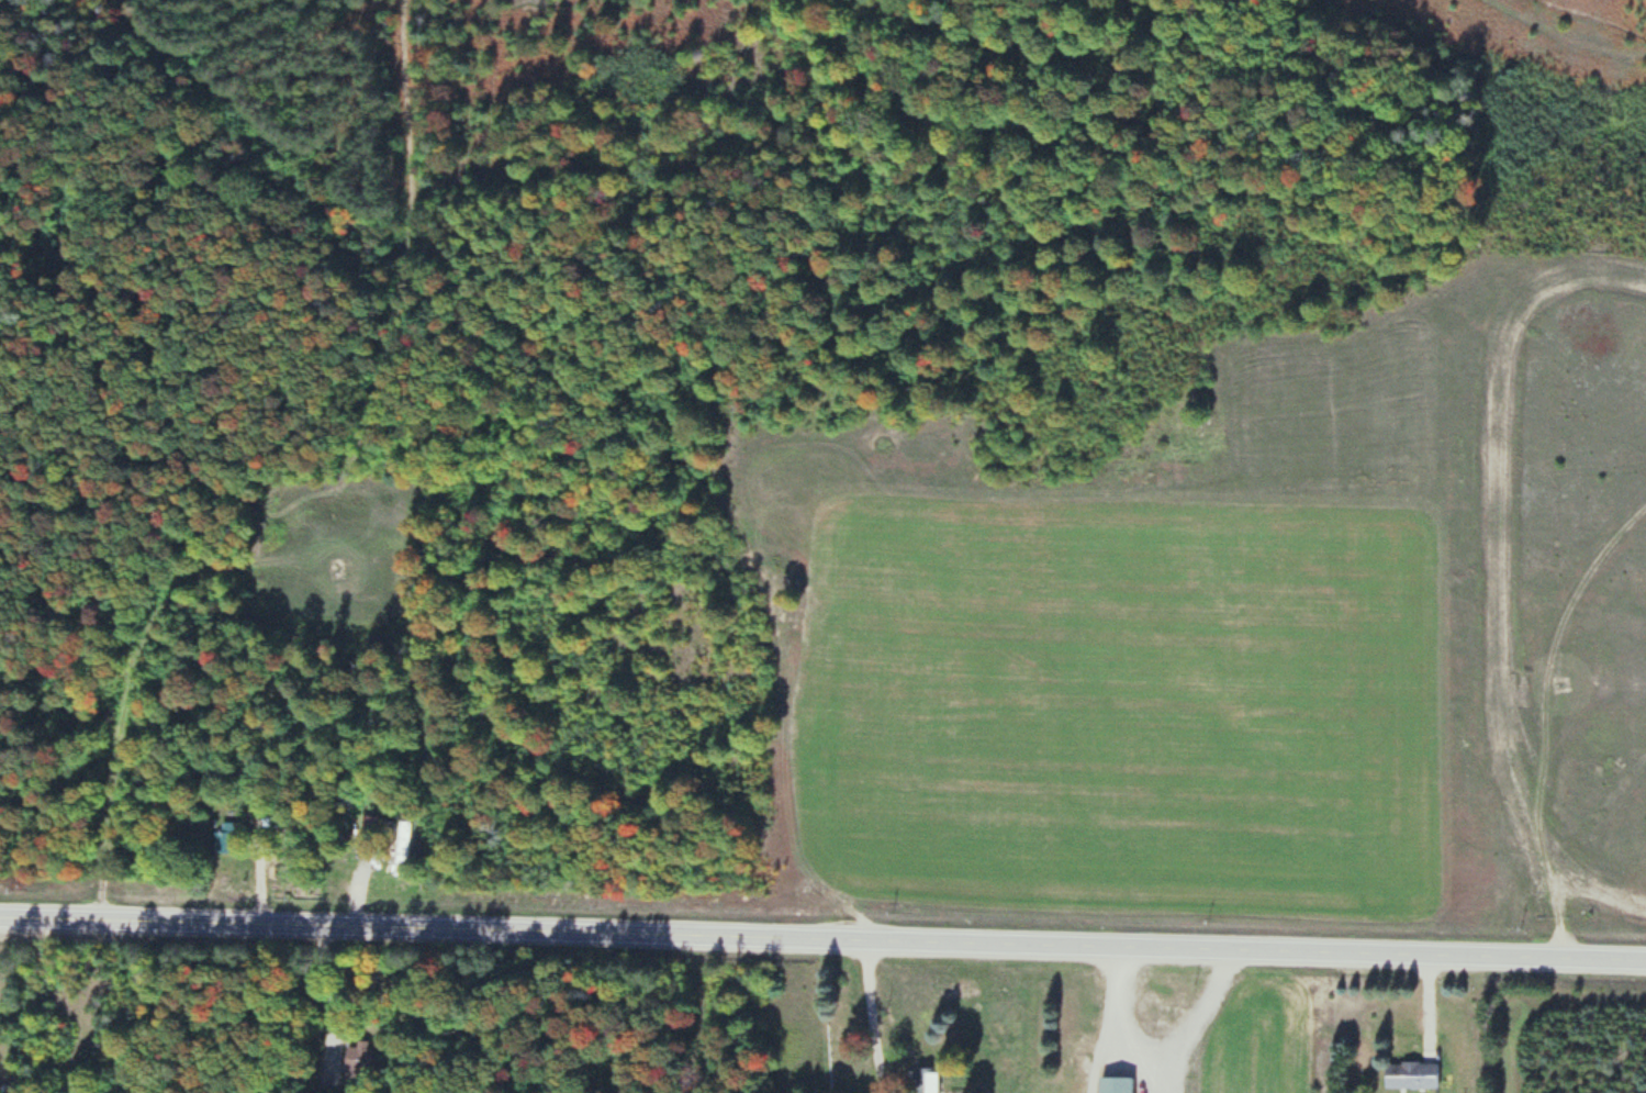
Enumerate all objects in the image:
building: (222, 841)
road: (822, 936)
building: (358, 1059)
building: (1409, 1074)
building: (923, 1080)
building: (1112, 1084)

